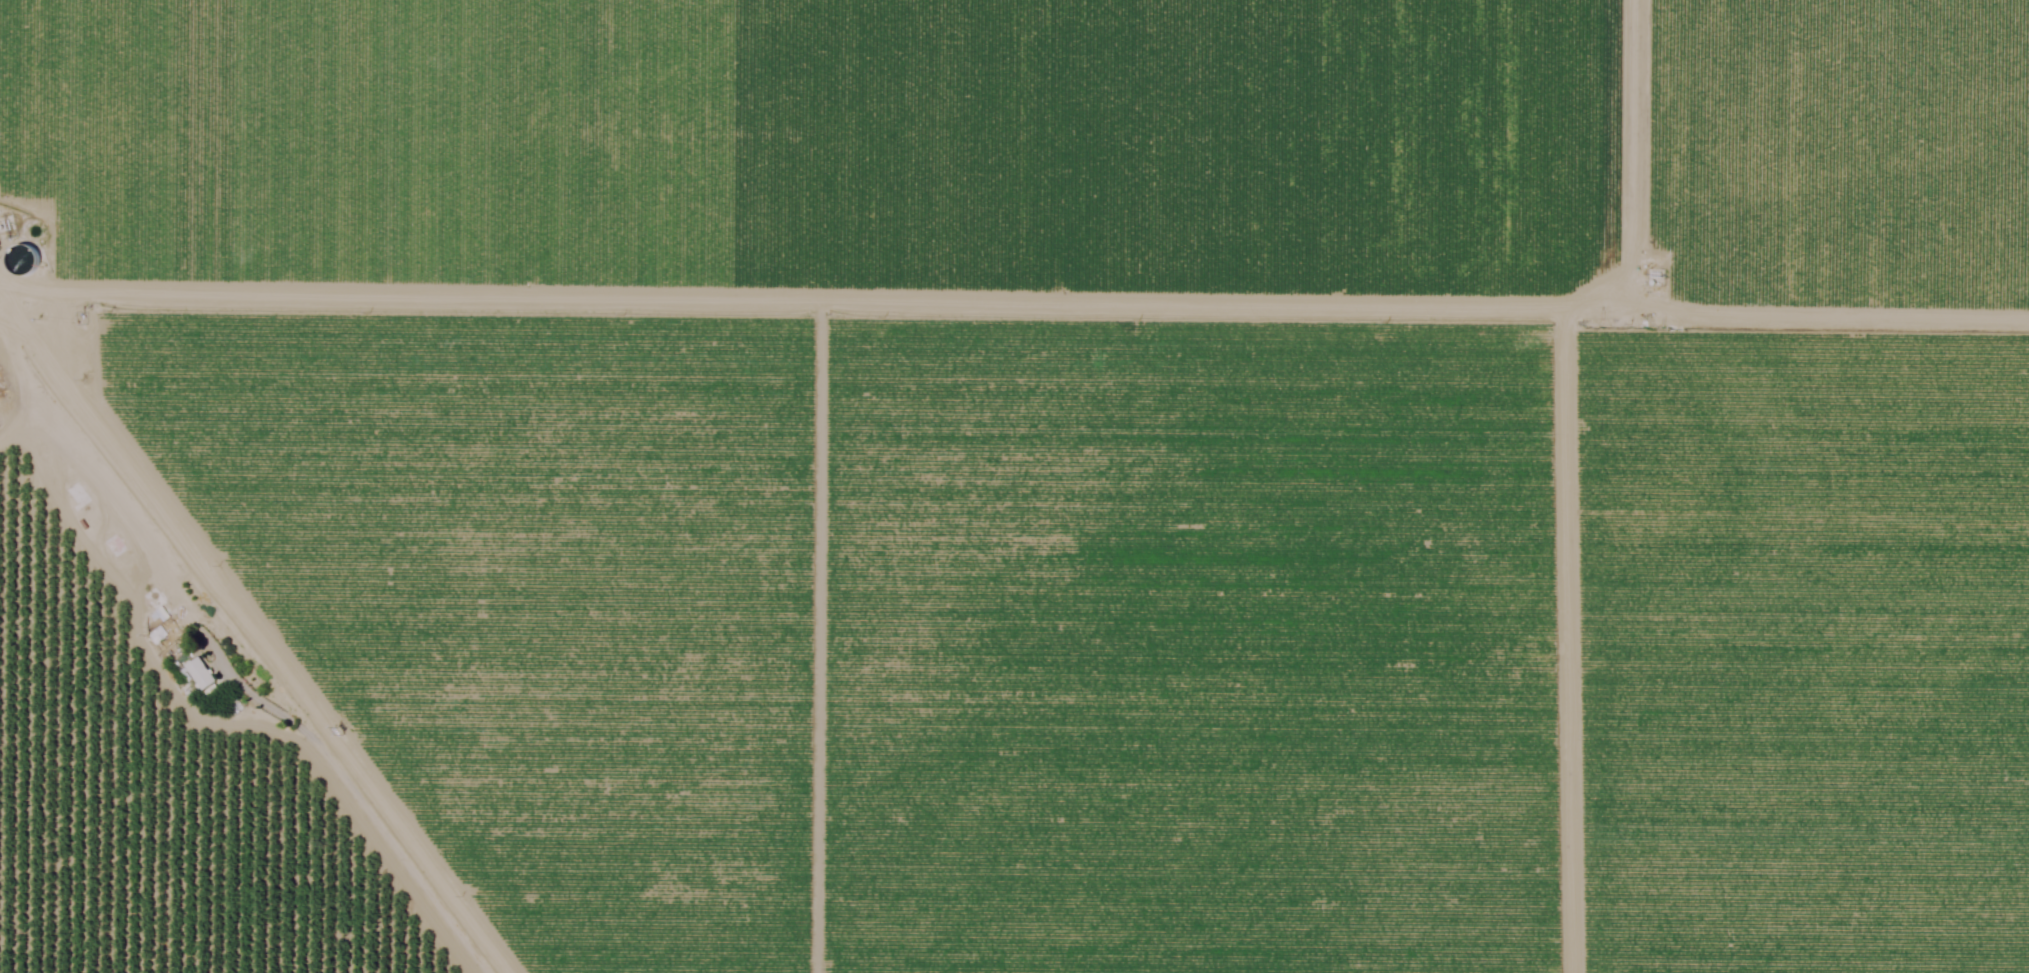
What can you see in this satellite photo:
crop: (817, 155)
crop: (1827, 159)
road: (1014, 289)
crop: (1160, 627)
road: (209, 673)

